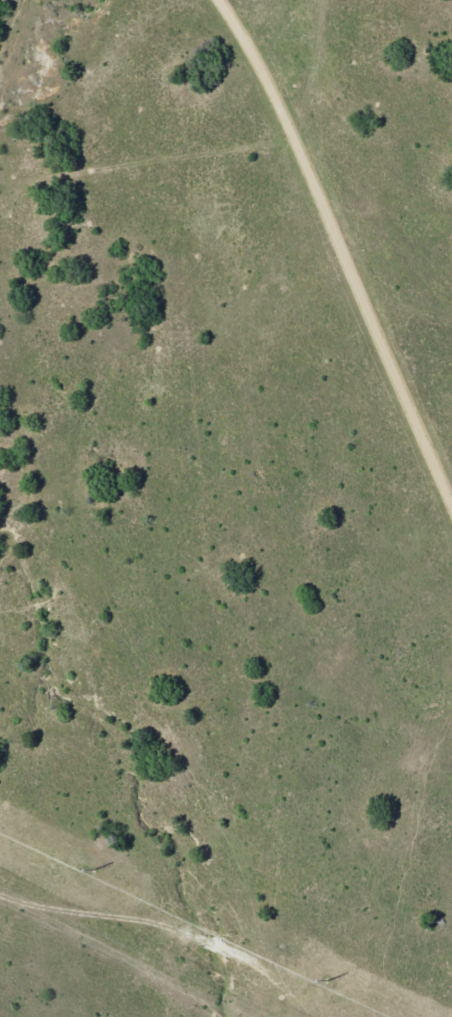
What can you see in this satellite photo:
road: (344, 242)

